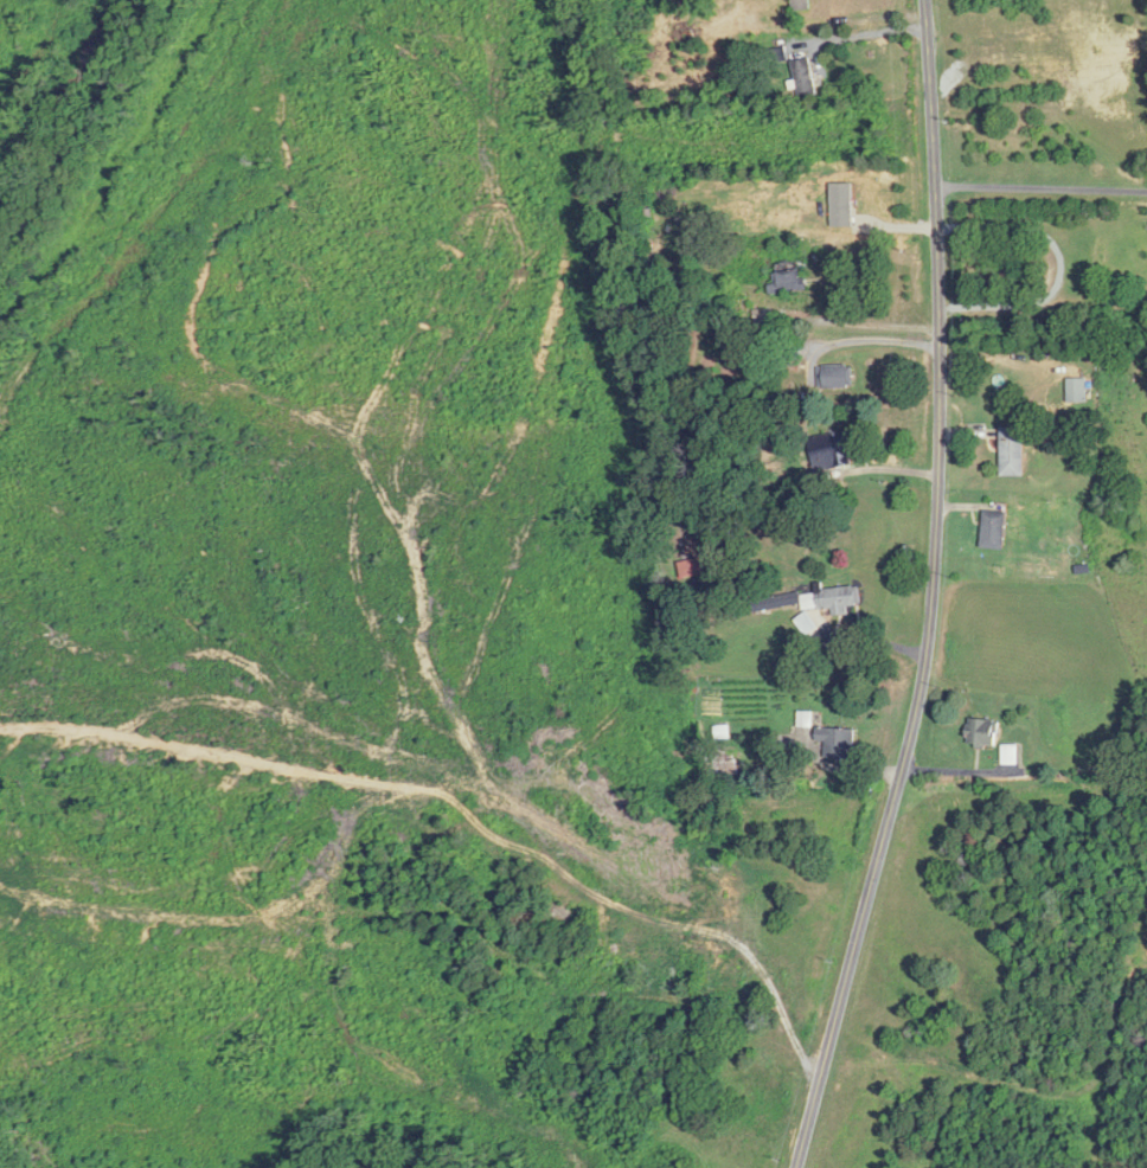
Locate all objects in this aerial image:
building: (801, 5)
road: (861, 34)
building: (805, 77)
road: (1040, 186)
building: (1100, 269)
building: (790, 276)
road: (940, 372)
building: (834, 378)
building: (1077, 391)
building: (831, 451)
building: (1012, 453)
building: (994, 531)
building: (813, 601)
building: (807, 623)
building: (981, 732)
building: (838, 742)
building: (1010, 753)
road: (852, 955)

